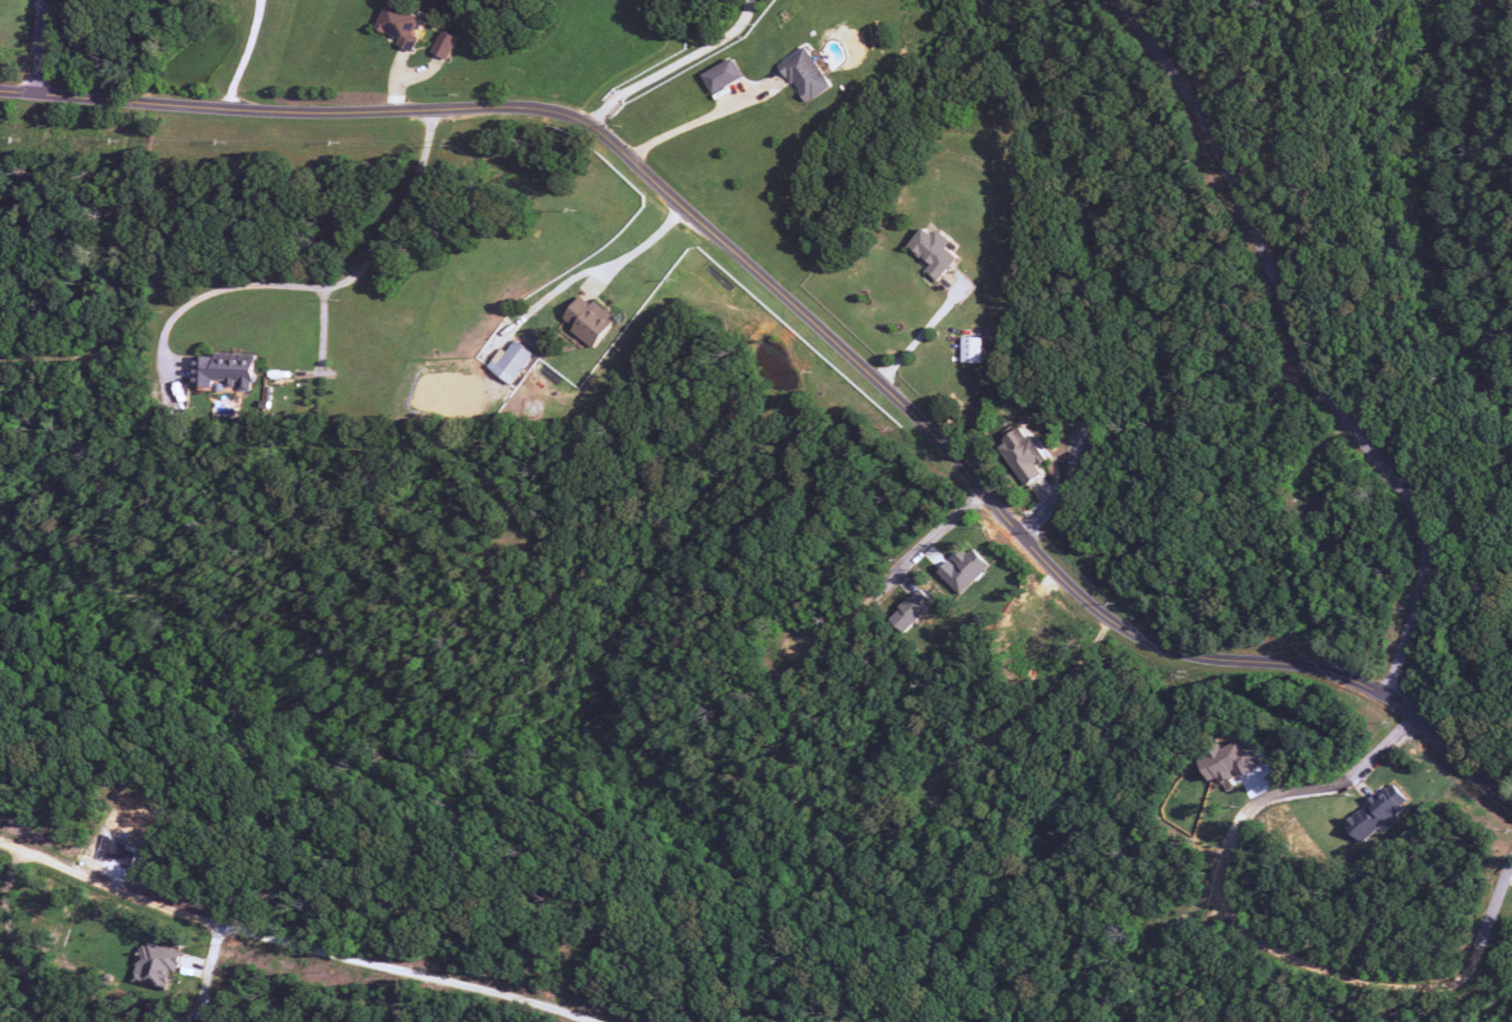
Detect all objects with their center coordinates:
building: (399, 25)
building: (444, 45)
road: (45, 49)
road: (243, 54)
road: (674, 65)
building: (805, 75)
building: (722, 76)
road: (1290, 101)
road: (26, 119)
road: (128, 159)
building: (933, 252)
road: (330, 286)
road: (129, 294)
road: (807, 320)
building: (589, 321)
road: (1303, 349)
building: (972, 350)
road: (45, 360)
building: (510, 361)
building: (225, 371)
road: (319, 451)
building: (1022, 456)
road: (1315, 465)
road: (1069, 496)
building: (963, 569)
road: (900, 579)
building: (911, 610)
road: (1027, 719)
building: (1229, 763)
road: (671, 792)
building: (1377, 813)
road: (1189, 914)
road: (1263, 932)
road: (17, 940)
road: (289, 945)
building: (156, 965)
road: (212, 977)
road: (573, 978)
road: (403, 997)

